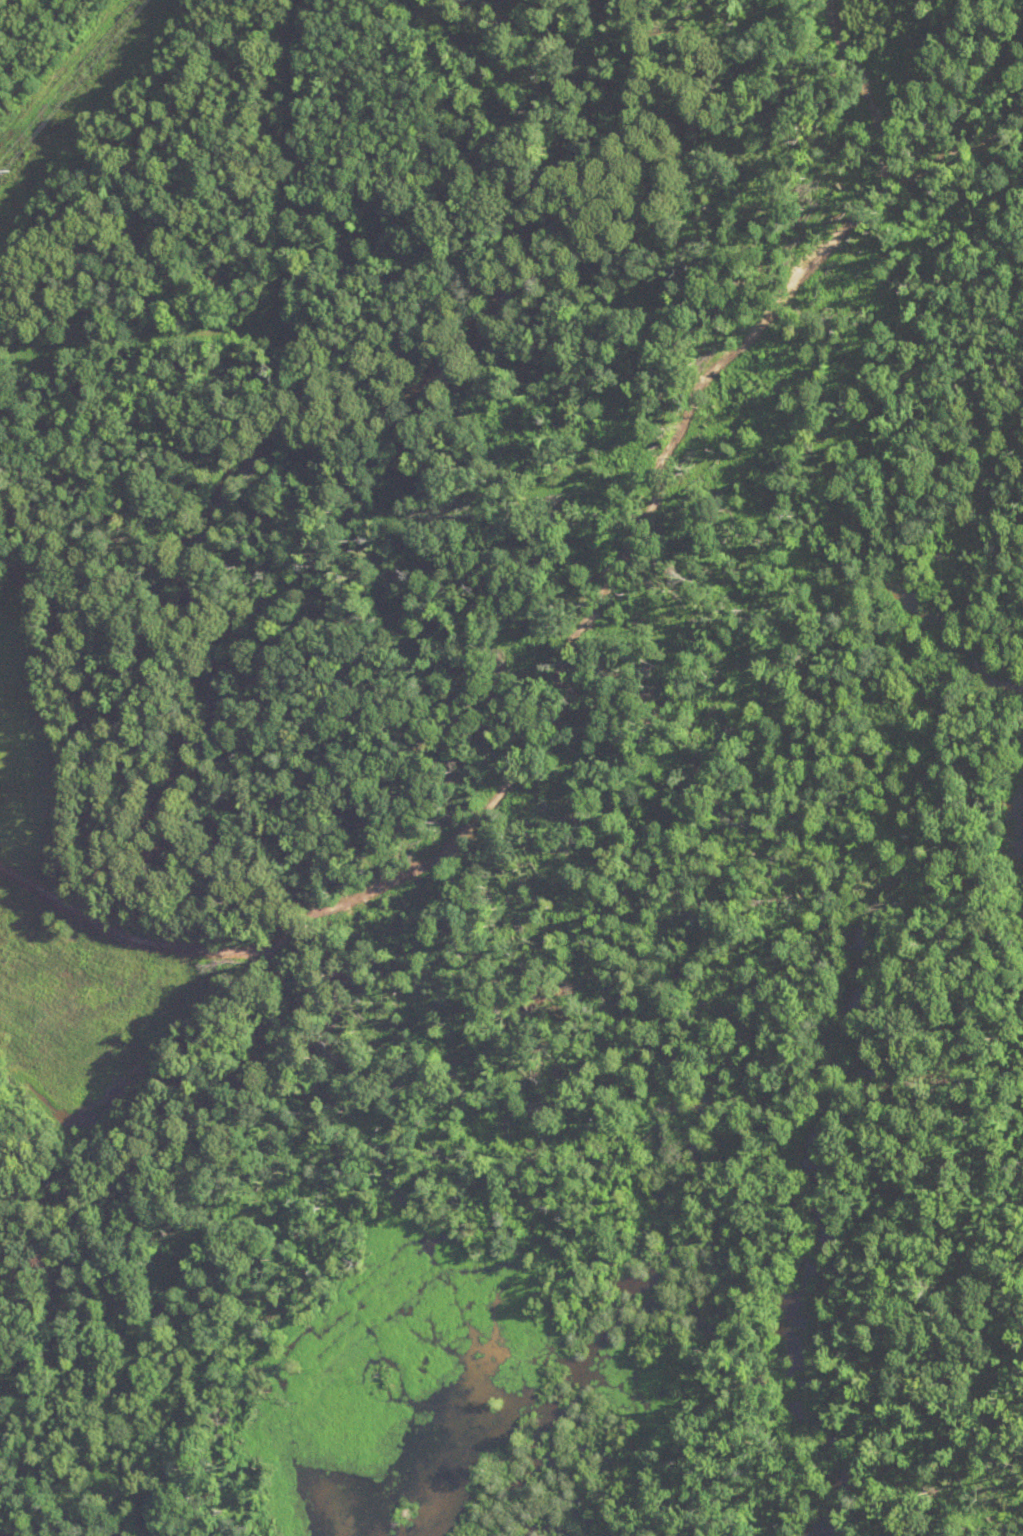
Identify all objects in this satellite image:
power tower: (10, 169)

